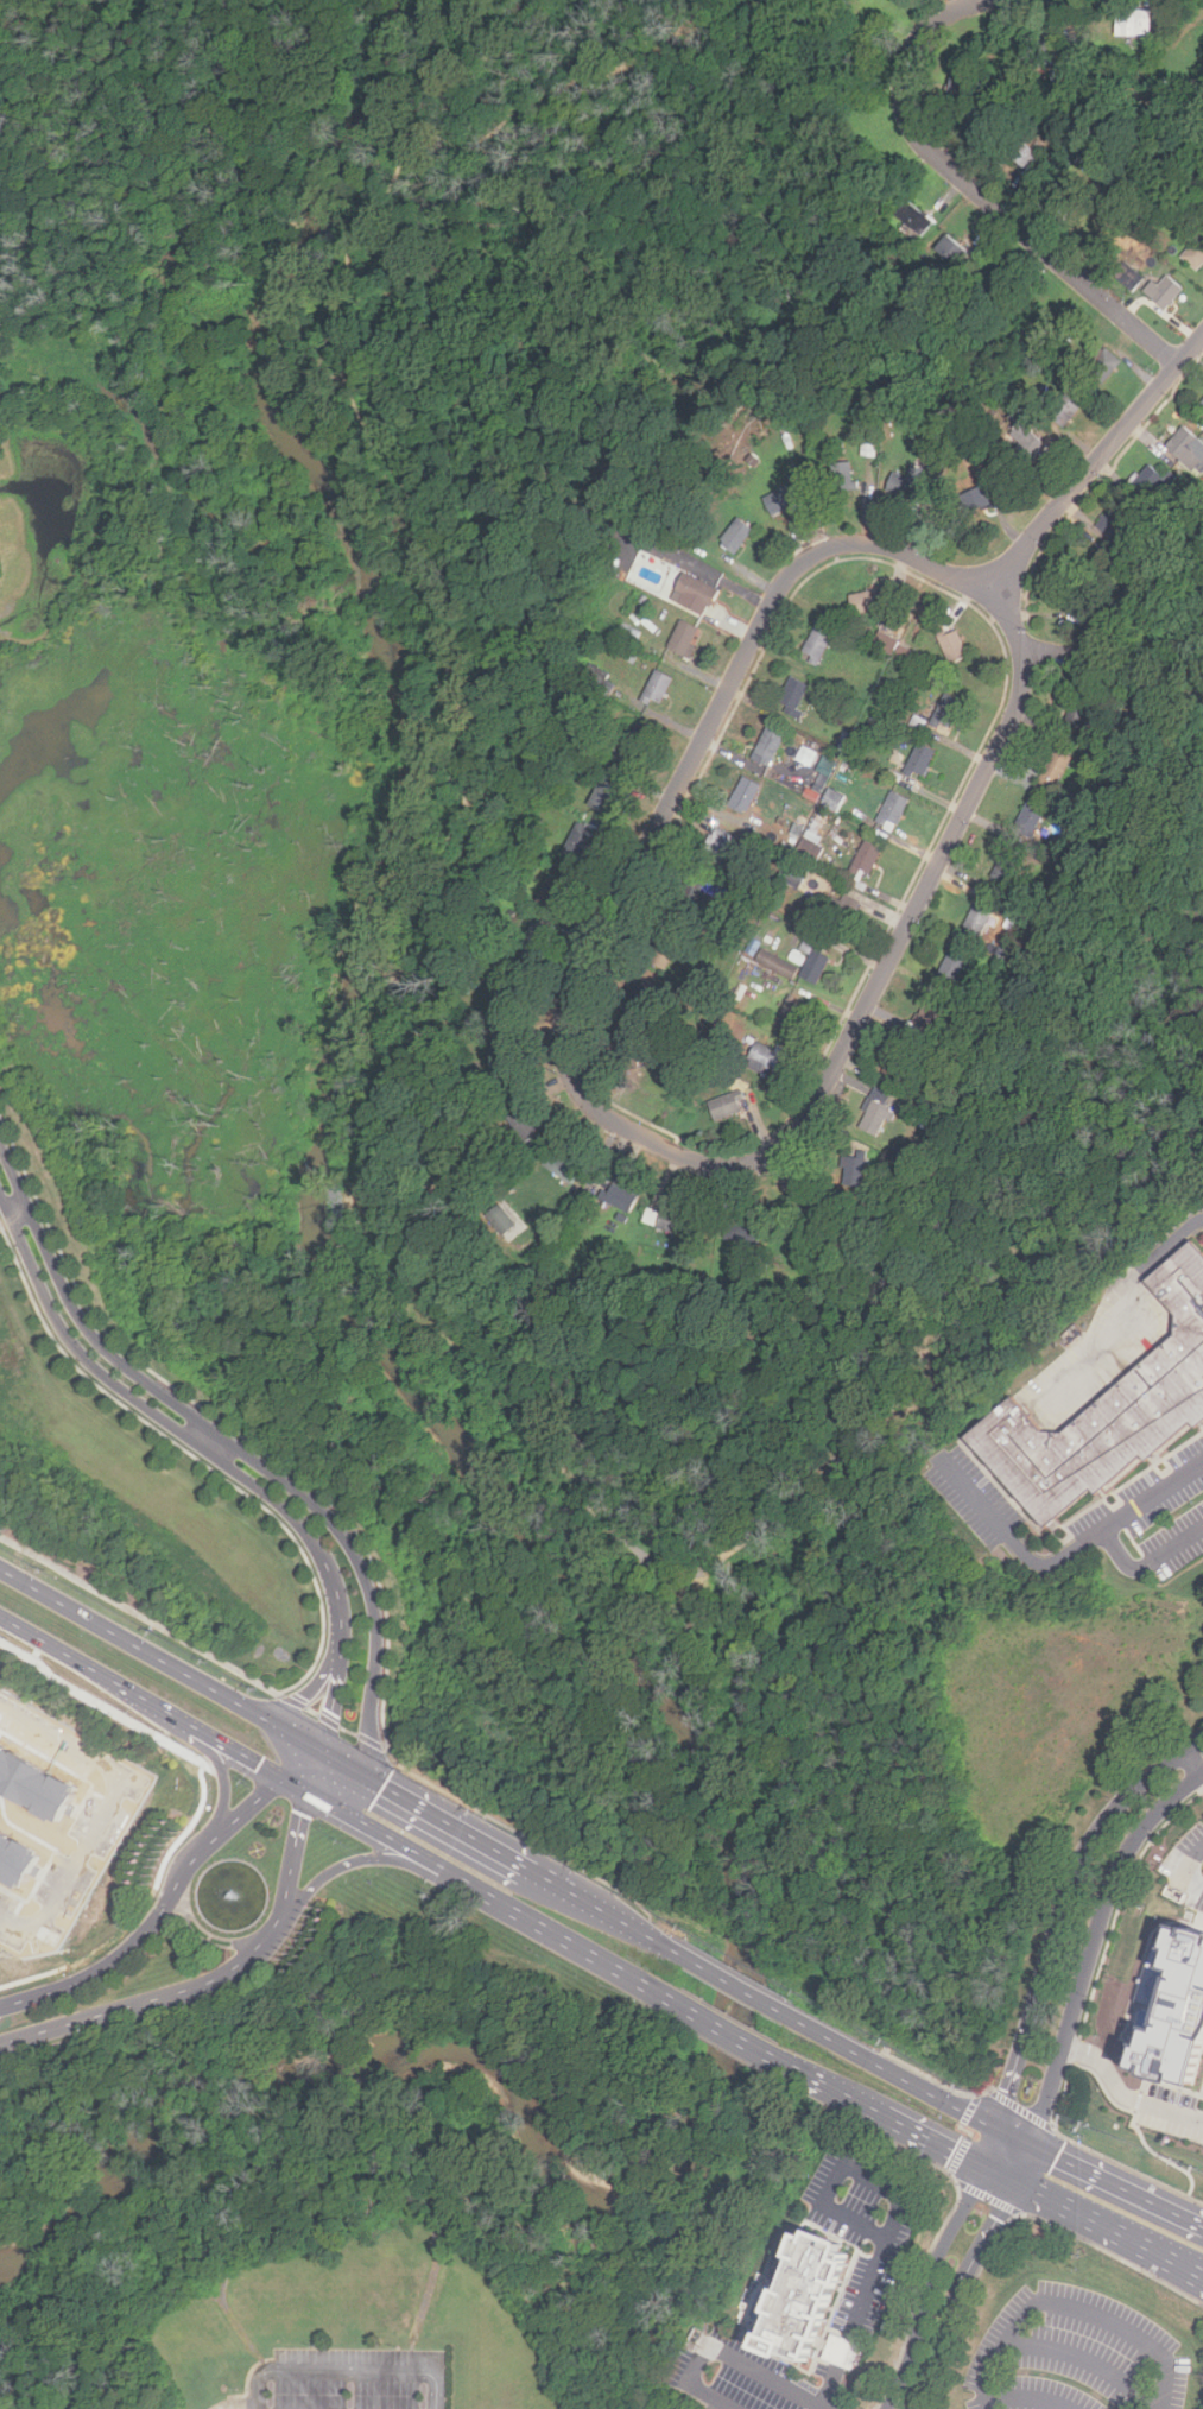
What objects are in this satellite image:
building: (1135, 23)
building: (1046, 40)
building: (958, 89)
river: (366, 102)
building: (1025, 157)
road: (974, 190)
building: (1066, 194)
building: (914, 217)
building: (951, 249)
building: (1195, 253)
building: (1132, 279)
river: (291, 282)
building: (996, 282)
building: (1167, 296)
river: (276, 363)
building: (1102, 365)
building: (1201, 405)
building: (1064, 410)
building: (869, 443)
building: (1186, 448)
building: (1025, 449)
road: (1094, 463)
building: (841, 476)
building: (1148, 481)
building: (905, 482)
building: (787, 498)
building: (977, 499)
building: (1114, 520)
building: (736, 535)
building: (1078, 590)
building: (697, 594)
building: (865, 601)
building: (683, 639)
building: (885, 643)
building: (951, 644)
building: (816, 645)
building: (905, 655)
road: (1071, 657)
building: (657, 687)
building: (792, 695)
building: (945, 710)
building: (1078, 712)
building: (767, 746)
building: (808, 755)
building: (919, 759)
building: (1053, 772)
building: (822, 778)
river: (411, 793)
building: (604, 793)
building: (743, 795)
building: (832, 799)
building: (892, 810)
building: (1030, 815)
building: (582, 841)
building: (716, 847)
building: (809, 849)
building: (866, 856)
building: (1006, 866)
building: (794, 874)
building: (556, 894)
building: (690, 900)
building: (840, 910)
building: (976, 921)
building: (537, 942)
building: (661, 950)
building: (813, 962)
building: (775, 963)
building: (950, 968)
building: (638, 994)
building: (514, 999)
building: (790, 1016)
building: (927, 1017)
road: (564, 1056)
building: (628, 1056)
building: (499, 1057)
building: (764, 1058)
building: (903, 1066)
building: (724, 1106)
building: (873, 1115)
building: (523, 1125)
building: (559, 1165)
building: (853, 1169)
building: (622, 1199)
road: (806, 1199)
building: (500, 1220)
building: (671, 1221)
building: (739, 1226)
road: (1121, 1303)
building: (1108, 1411)
road: (234, 1443)
road: (216, 1453)
river: (473, 1454)
road: (360, 1529)
road: (1064, 1554)
road: (1148, 1561)
road: (312, 1563)
road: (159, 1658)
road: (308, 1695)
road: (141, 1700)
road: (336, 1722)
traffic signals: (319, 1749)
road: (343, 1760)
road: (302, 1763)
road: (1193, 1764)
road: (314, 1770)
traffic signals: (368, 1773)
road: (229, 1776)
building: (34, 1777)
traffic signals: (285, 1778)
road: (297, 1785)
traffic signals: (309, 1792)
road: (120, 1803)
road: (448, 1822)
road: (399, 1842)
building: (15, 1855)
road: (355, 1861)
road: (1185, 1870)
fountain: (239, 1891)
road: (580, 1899)
road: (1065, 1910)
road: (160, 1914)
road: (654, 1942)
road: (577, 1949)
road: (1087, 1965)
river: (739, 1969)
road: (215, 1980)
road: (733, 1986)
building: (1173, 2007)
road: (718, 2031)
river: (296, 2066)
road: (827, 2091)
road: (1123, 2098)
road: (992, 2126)
traffic signals: (996, 2129)
road: (932, 2143)
road: (989, 2148)
road: (998, 2174)
traffic signals: (1013, 2181)
road: (895, 2219)
road: (1100, 2223)
road: (1195, 2269)
parking lot: (881, 2271)
road: (1195, 2274)
road: (927, 2284)
road: (958, 2291)
building: (806, 2297)
road: (1071, 2310)
road: (726, 2353)
parking lot: (1082, 2354)
road: (1083, 2357)
road: (348, 2369)
parking lot: (353, 2377)
road: (1027, 2398)

